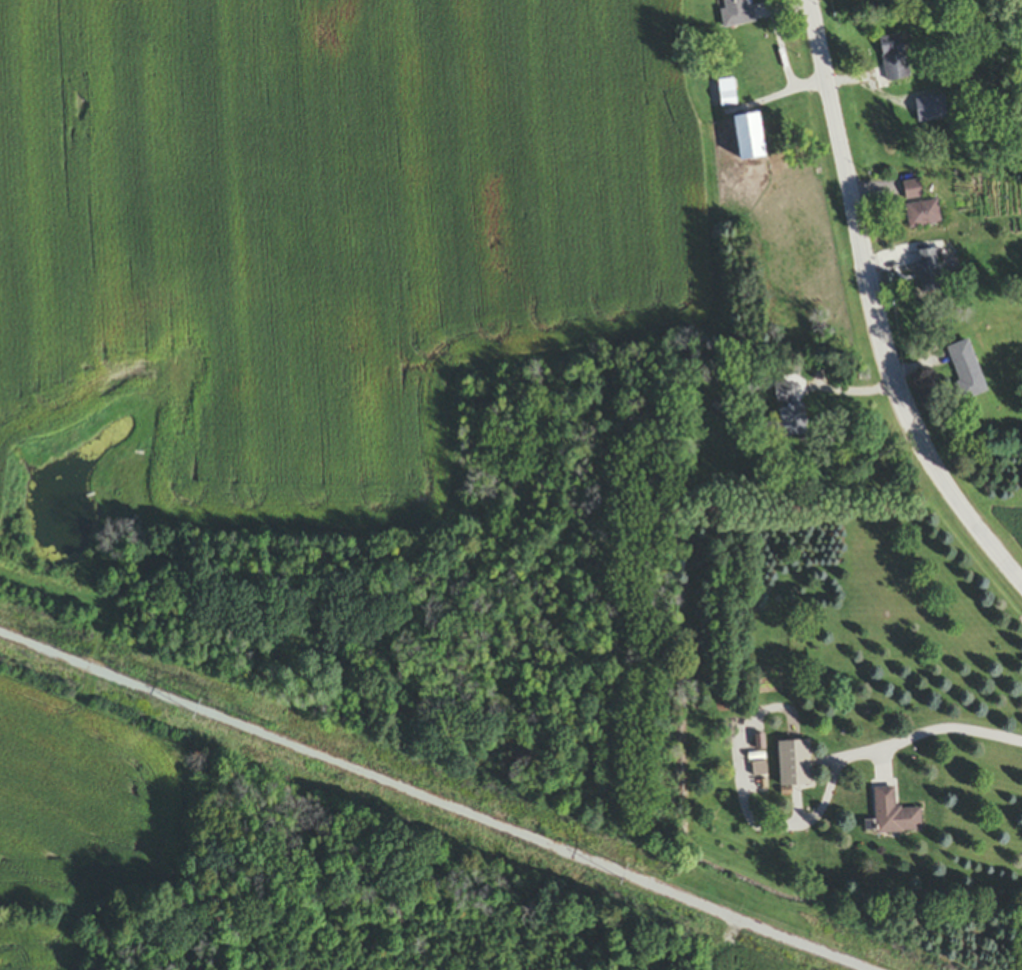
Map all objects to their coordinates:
building: (736, 13)
building: (893, 60)
building: (725, 95)
building: (746, 138)
building: (913, 192)
building: (923, 216)
building: (928, 267)
road: (875, 309)
building: (966, 371)
building: (782, 394)
building: (792, 423)
power tower: (205, 713)
road: (947, 727)
building: (794, 765)
road: (424, 805)
building: (894, 816)
power tower: (631, 879)

